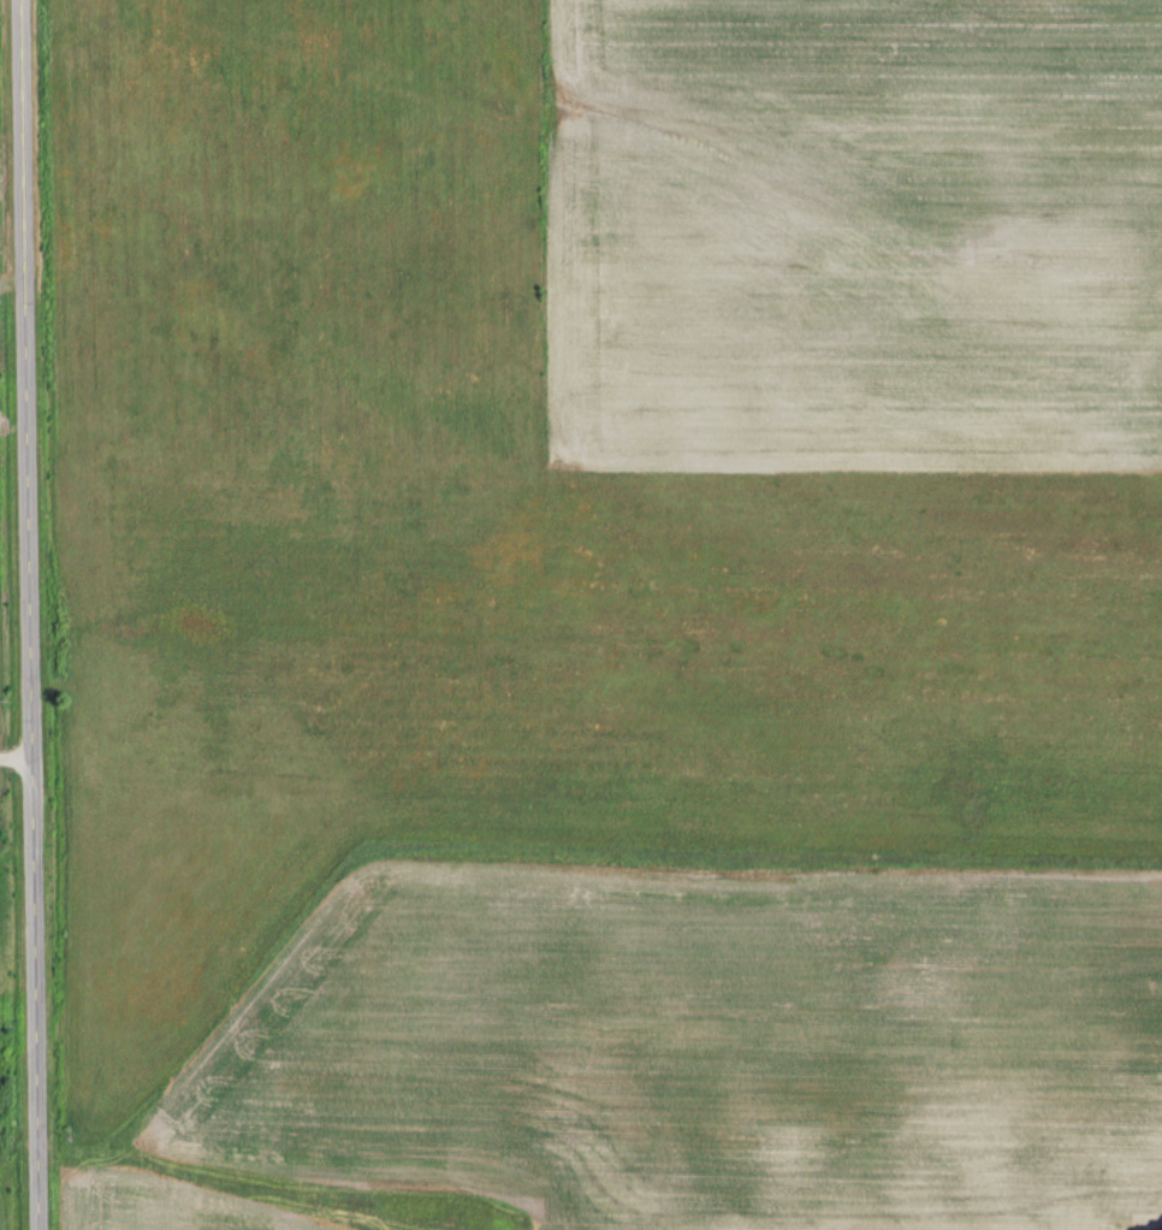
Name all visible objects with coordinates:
road: (26, 615)

